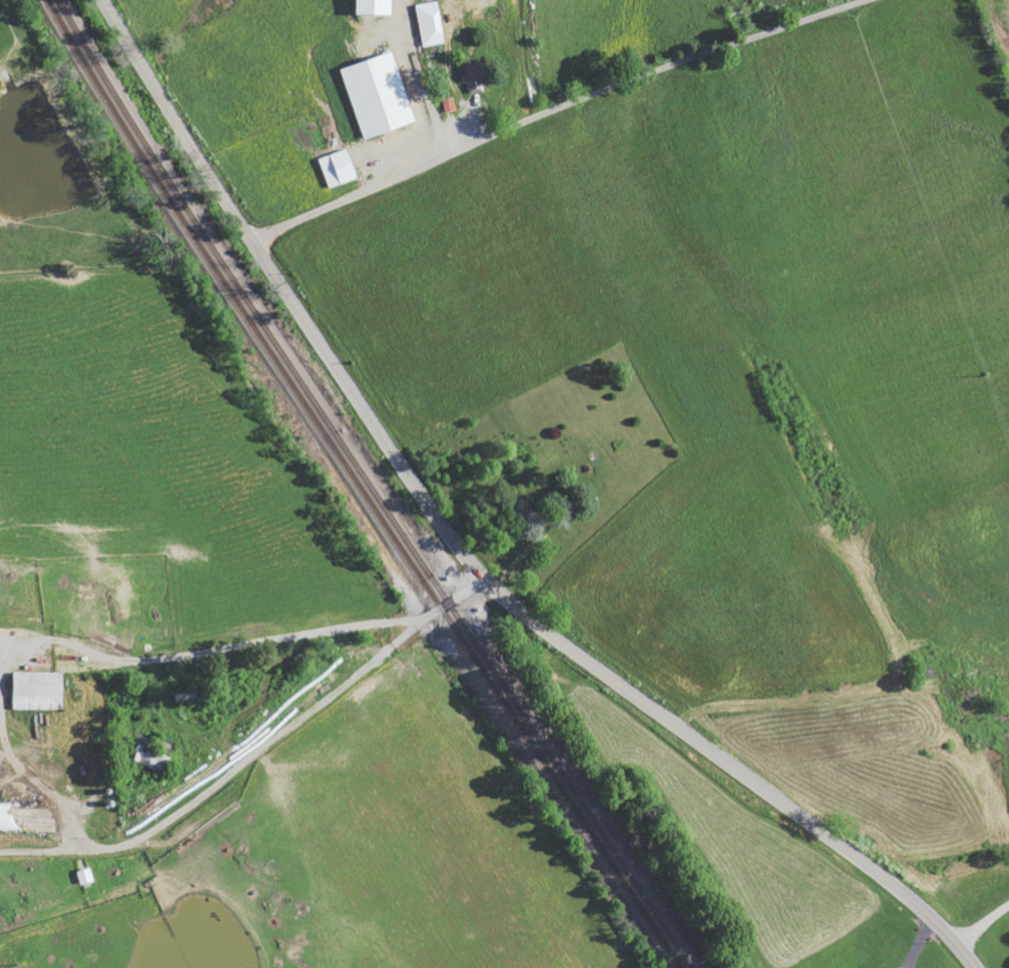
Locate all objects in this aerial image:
building: (432, 23)
building: (475, 78)
building: (380, 95)
building: (450, 105)
road: (556, 108)
building: (346, 165)
railway: (341, 441)
railway: (332, 445)
road: (464, 555)
road: (246, 648)
building: (40, 691)
building: (153, 758)
building: (87, 877)
road: (981, 920)
railway: (662, 923)
railway: (654, 926)

